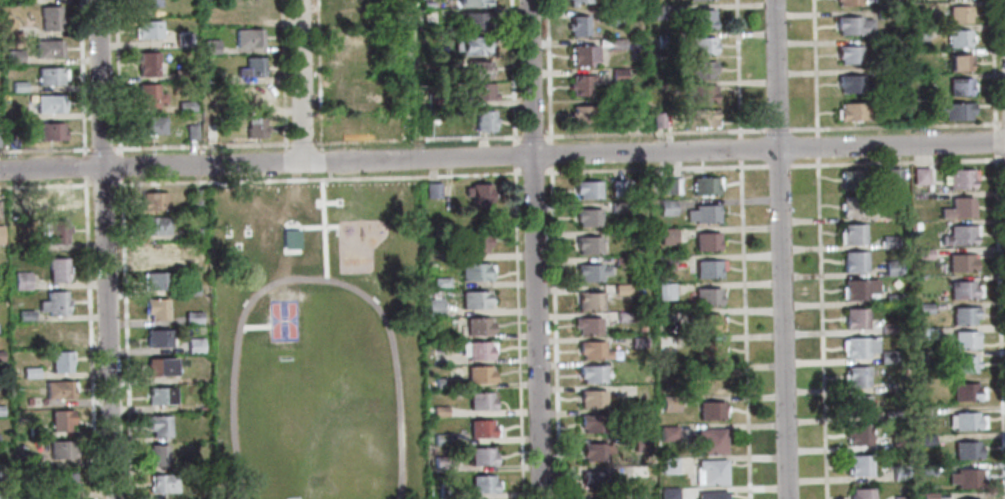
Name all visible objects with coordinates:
building: (21, 2)
building: (354, 2)
building: (471, 2)
building: (580, 2)
building: (847, 2)
building: (147, 3)
building: (424, 3)
building: (661, 12)
building: (882, 14)
building: (957, 15)
building: (612, 16)
building: (49, 17)
building: (428, 17)
building: (703, 18)
building: (28, 20)
building: (469, 21)
building: (578, 25)
building: (852, 26)
building: (147, 29)
building: (918, 33)
building: (247, 37)
building: (956, 39)
building: (183, 40)
building: (662, 40)
building: (618, 43)
building: (703, 44)
building: (472, 45)
building: (210, 46)
building: (47, 48)
building: (582, 55)
building: (848, 55)
building: (13, 56)
building: (146, 63)
building: (958, 63)
road: (995, 64)
building: (250, 67)
road: (815, 67)
building: (473, 68)
road: (738, 68)
building: (704, 69)
road: (546, 71)
road: (282, 72)
road: (510, 72)
building: (179, 74)
building: (211, 74)
building: (619, 74)
building: (50, 75)
road: (318, 75)
road: (116, 77)
road: (80, 78)
road: (415, 79)
road: (301, 81)
building: (852, 84)
building: (582, 85)
building: (18, 86)
building: (958, 86)
building: (660, 87)
building: (478, 91)
building: (353, 92)
building: (703, 92)
building: (256, 94)
building: (148, 96)
building: (49, 103)
building: (185, 105)
building: (952, 110)
building: (852, 111)
building: (581, 114)
building: (706, 117)
building: (630, 119)
building: (482, 120)
building: (662, 120)
road: (1003, 122)
building: (150, 125)
road: (896, 125)
building: (253, 127)
road: (778, 128)
building: (50, 131)
building: (190, 131)
road: (653, 132)
road: (530, 137)
road: (415, 140)
road: (302, 143)
road: (996, 144)
road: (202, 145)
road: (101, 148)
road: (45, 150)
road: (817, 150)
road: (740, 151)
road: (548, 154)
road: (512, 155)
road: (502, 157)
road: (1000, 159)
road: (325, 160)
road: (768, 165)
road: (119, 166)
road: (83, 167)
road: (531, 173)
road: (329, 174)
building: (892, 175)
building: (919, 175)
road: (316, 178)
building: (959, 178)
building: (852, 179)
road: (102, 184)
road: (45, 185)
building: (704, 185)
building: (668, 186)
building: (619, 187)
building: (585, 188)
building: (431, 190)
building: (477, 195)
building: (196, 196)
building: (15, 200)
building: (50, 200)
building: (153, 200)
building: (854, 204)
building: (617, 206)
building: (666, 207)
building: (958, 208)
building: (701, 213)
building: (586, 217)
building: (154, 225)
building: (915, 225)
building: (51, 231)
building: (191, 232)
building: (852, 233)
building: (959, 234)
building: (666, 236)
building: (0, 237)
building: (705, 241)
building: (888, 241)
building: (472, 244)
building: (586, 244)
road: (104, 249)
road: (534, 249)
road: (781, 249)
building: (155, 252)
building: (922, 254)
building: (853, 260)
building: (193, 261)
building: (619, 262)
building: (663, 262)
building: (960, 262)
building: (891, 267)
building: (707, 268)
building: (56, 269)
building: (474, 271)
building: (590, 272)
building: (21, 280)
building: (155, 280)
building: (440, 282)
building: (189, 288)
building: (858, 288)
building: (620, 289)
building: (963, 290)
building: (664, 291)
building: (706, 296)
building: (473, 299)
building: (892, 299)
building: (588, 301)
building: (53, 303)
building: (433, 307)
building: (154, 308)
building: (925, 308)
building: (964, 314)
building: (25, 315)
building: (622, 316)
building: (191, 317)
building: (854, 318)
building: (705, 322)
building: (586, 325)
building: (477, 326)
building: (887, 328)
road: (1000, 329)
building: (54, 332)
road: (517, 332)
road: (553, 332)
road: (744, 332)
road: (821, 332)
building: (925, 333)
building: (431, 335)
road: (88, 338)
road: (125, 338)
building: (157, 338)
building: (964, 339)
building: (26, 342)
park: (316, 342)
building: (637, 342)
building: (667, 343)
building: (193, 345)
building: (859, 347)
building: (476, 349)
building: (591, 349)
building: (708, 350)
building: (0, 355)
building: (887, 356)
building: (922, 358)
building: (59, 361)
building: (963, 363)
building: (158, 366)
building: (29, 372)
building: (590, 373)
building: (478, 374)
building: (856, 376)
building: (440, 382)
building: (57, 389)
building: (964, 391)
building: (158, 395)
building: (591, 399)
building: (27, 400)
building: (479, 400)
building: (669, 403)
building: (857, 405)
building: (201, 410)
building: (438, 410)
building: (709, 410)
building: (0, 411)
building: (637, 413)
building: (891, 415)
building: (59, 420)
building: (965, 420)
building: (592, 422)
building: (158, 425)
building: (481, 428)
building: (35, 432)
building: (666, 432)
building: (858, 434)
building: (709, 439)
building: (926, 439)
building: (898, 441)
building: (638, 442)
building: (60, 449)
building: (966, 449)
building: (594, 450)
building: (156, 454)
building: (480, 456)
building: (25, 461)
building: (439, 462)
building: (859, 464)
building: (668, 465)
building: (928, 468)
building: (1, 471)
building: (637, 471)
building: (709, 472)
building: (899, 472)
building: (965, 477)
building: (593, 479)
building: (61, 482)
building: (161, 483)
building: (481, 483)
building: (443, 489)
building: (27, 493)
building: (668, 493)
building: (861, 493)
building: (2, 495)
building: (711, 495)
building: (637, 496)
building: (927, 496)
building: (900, 497)

